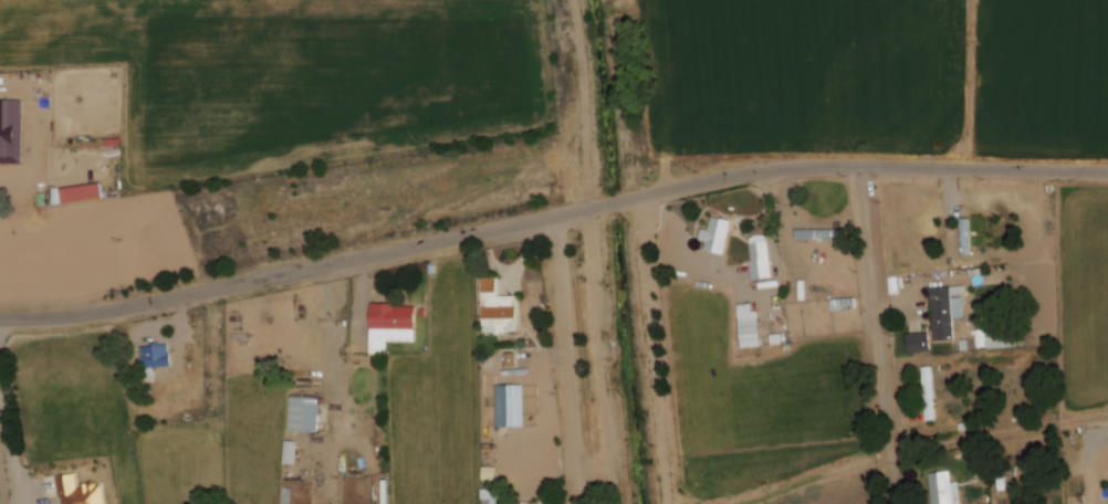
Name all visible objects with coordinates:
building: (14, 117)
building: (82, 192)
road: (551, 217)
building: (820, 232)
building: (717, 234)
building: (966, 235)
building: (760, 256)
building: (844, 304)
building: (500, 308)
building: (947, 311)
building: (390, 325)
building: (750, 333)
road: (877, 334)
building: (992, 339)
building: (918, 342)
road: (656, 349)
building: (155, 357)
road: (568, 359)
building: (930, 392)
building: (510, 406)
building: (305, 413)
road: (9, 424)
building: (290, 452)
road: (2, 484)
building: (944, 489)
building: (79, 491)
building: (285, 496)
building: (492, 496)

